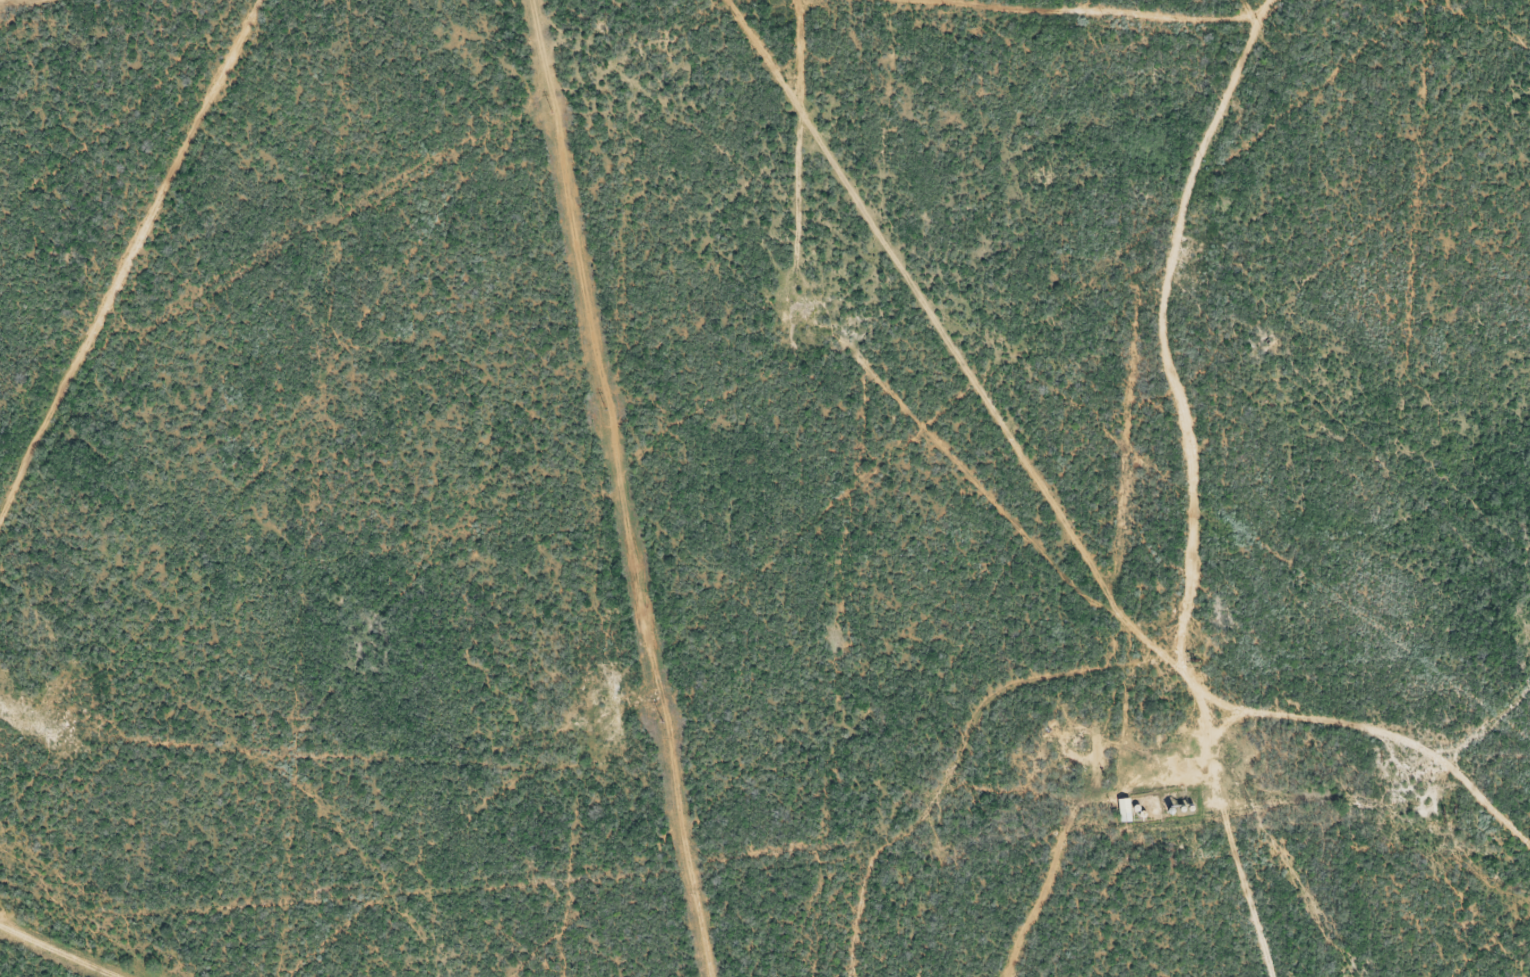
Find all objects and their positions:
road: (337, 6)
road: (1032, 30)
power tower: (552, 111)
road: (774, 152)
road: (137, 272)
power tower: (606, 407)
road: (1273, 694)
power tower: (663, 721)
road: (1453, 735)
road: (947, 803)
building: (1128, 813)

